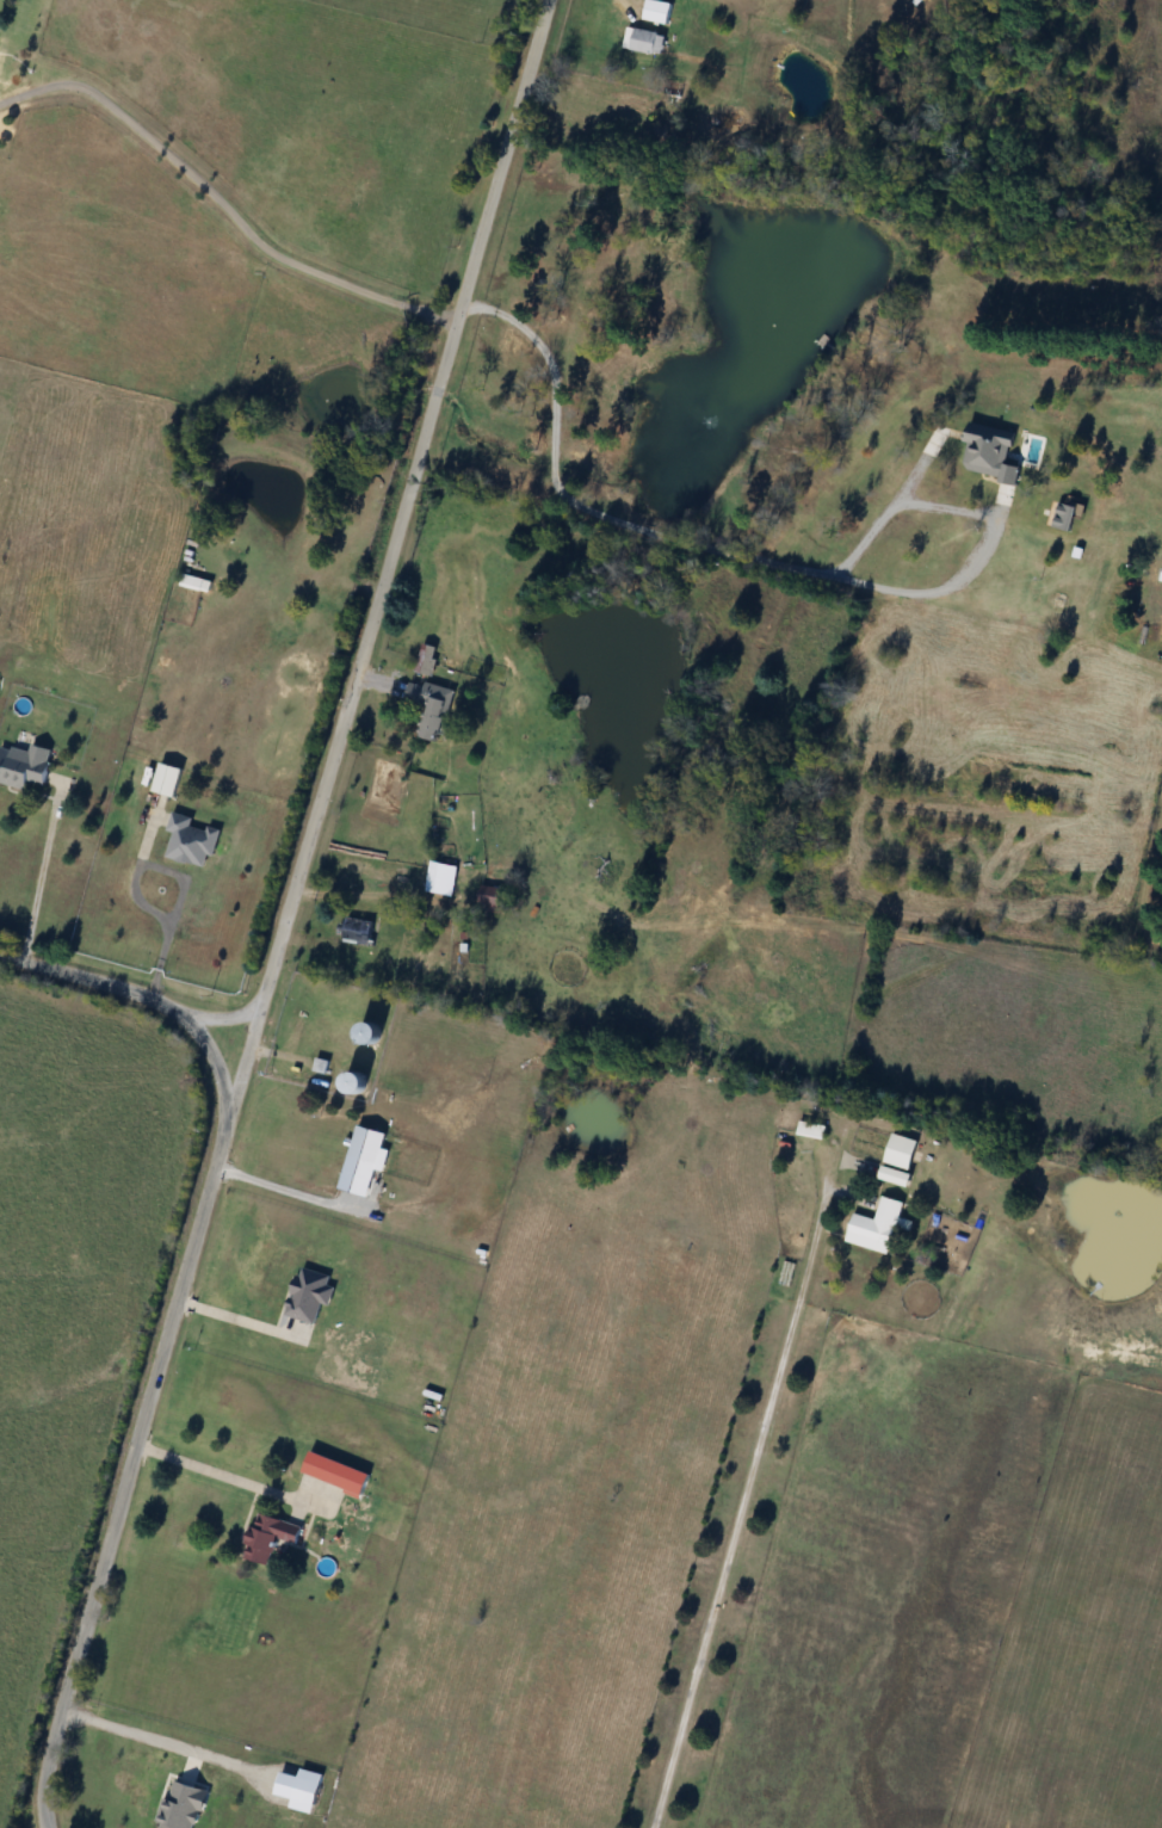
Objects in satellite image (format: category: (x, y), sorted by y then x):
building: (660, 11)
building: (650, 42)
road: (221, 200)
building: (1067, 517)
road: (769, 558)
road: (382, 572)
building: (192, 582)
building: (428, 659)
building: (432, 706)
building: (25, 766)
building: (168, 780)
building: (193, 841)
road: (42, 871)
building: (432, 878)
building: (493, 900)
road: (153, 907)
building: (359, 932)
road: (216, 1011)
building: (360, 1083)
building: (811, 1130)
building: (900, 1160)
road: (292, 1190)
building: (878, 1227)
building: (310, 1296)
road: (235, 1316)
road: (169, 1326)
road: (223, 1472)
building: (338, 1475)
road: (738, 1505)
building: (271, 1538)
road: (136, 1731)

